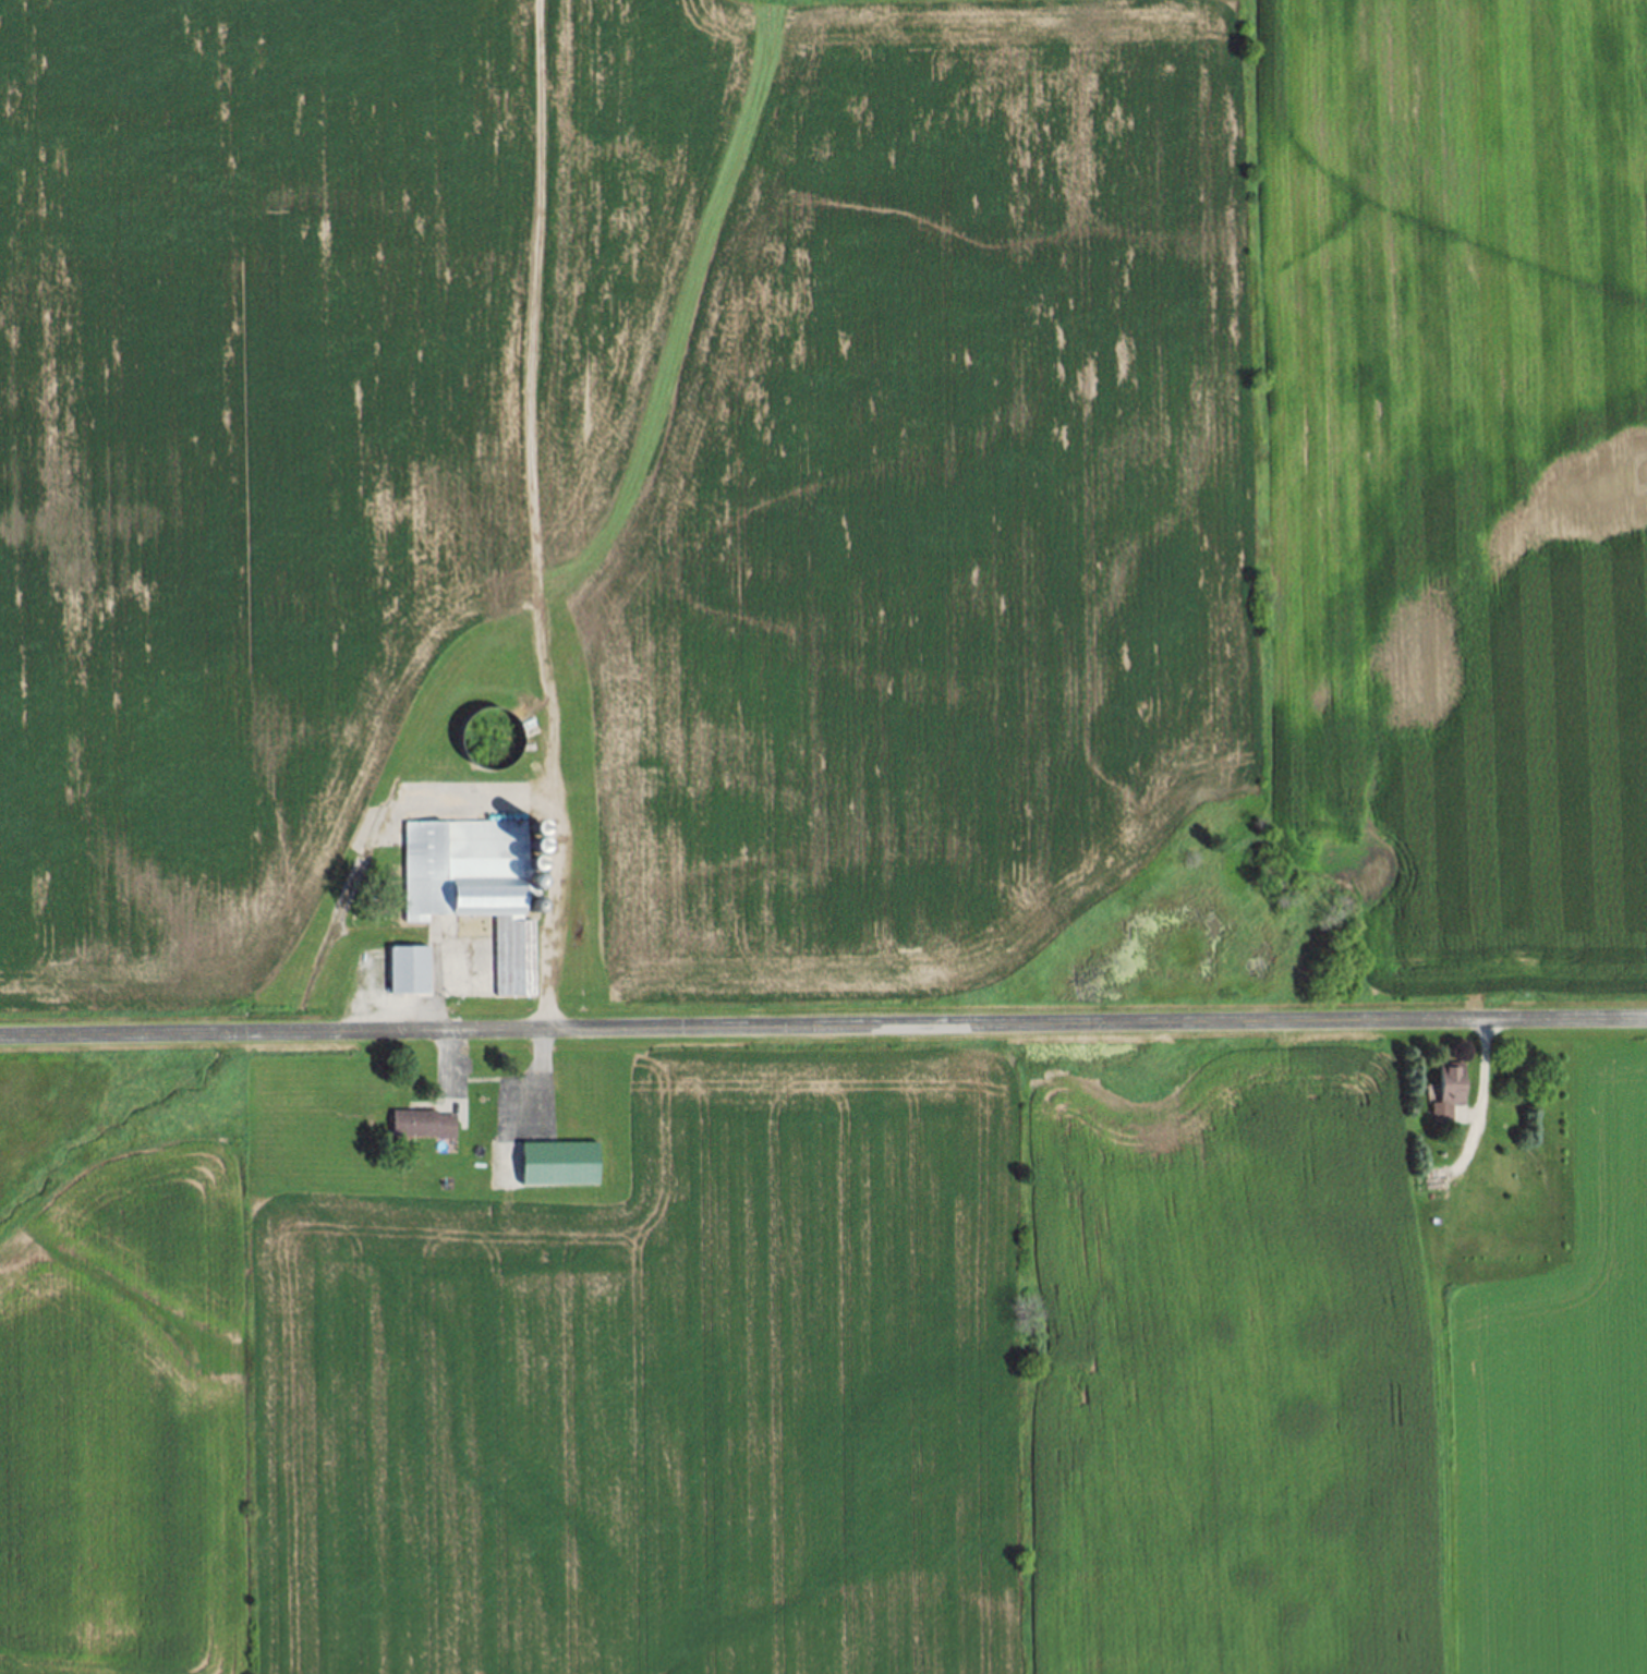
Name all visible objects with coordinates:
building: (470, 902)
road: (823, 1024)
road: (538, 1026)
road: (1479, 1082)
building: (1448, 1095)
building: (427, 1125)
building: (561, 1165)

